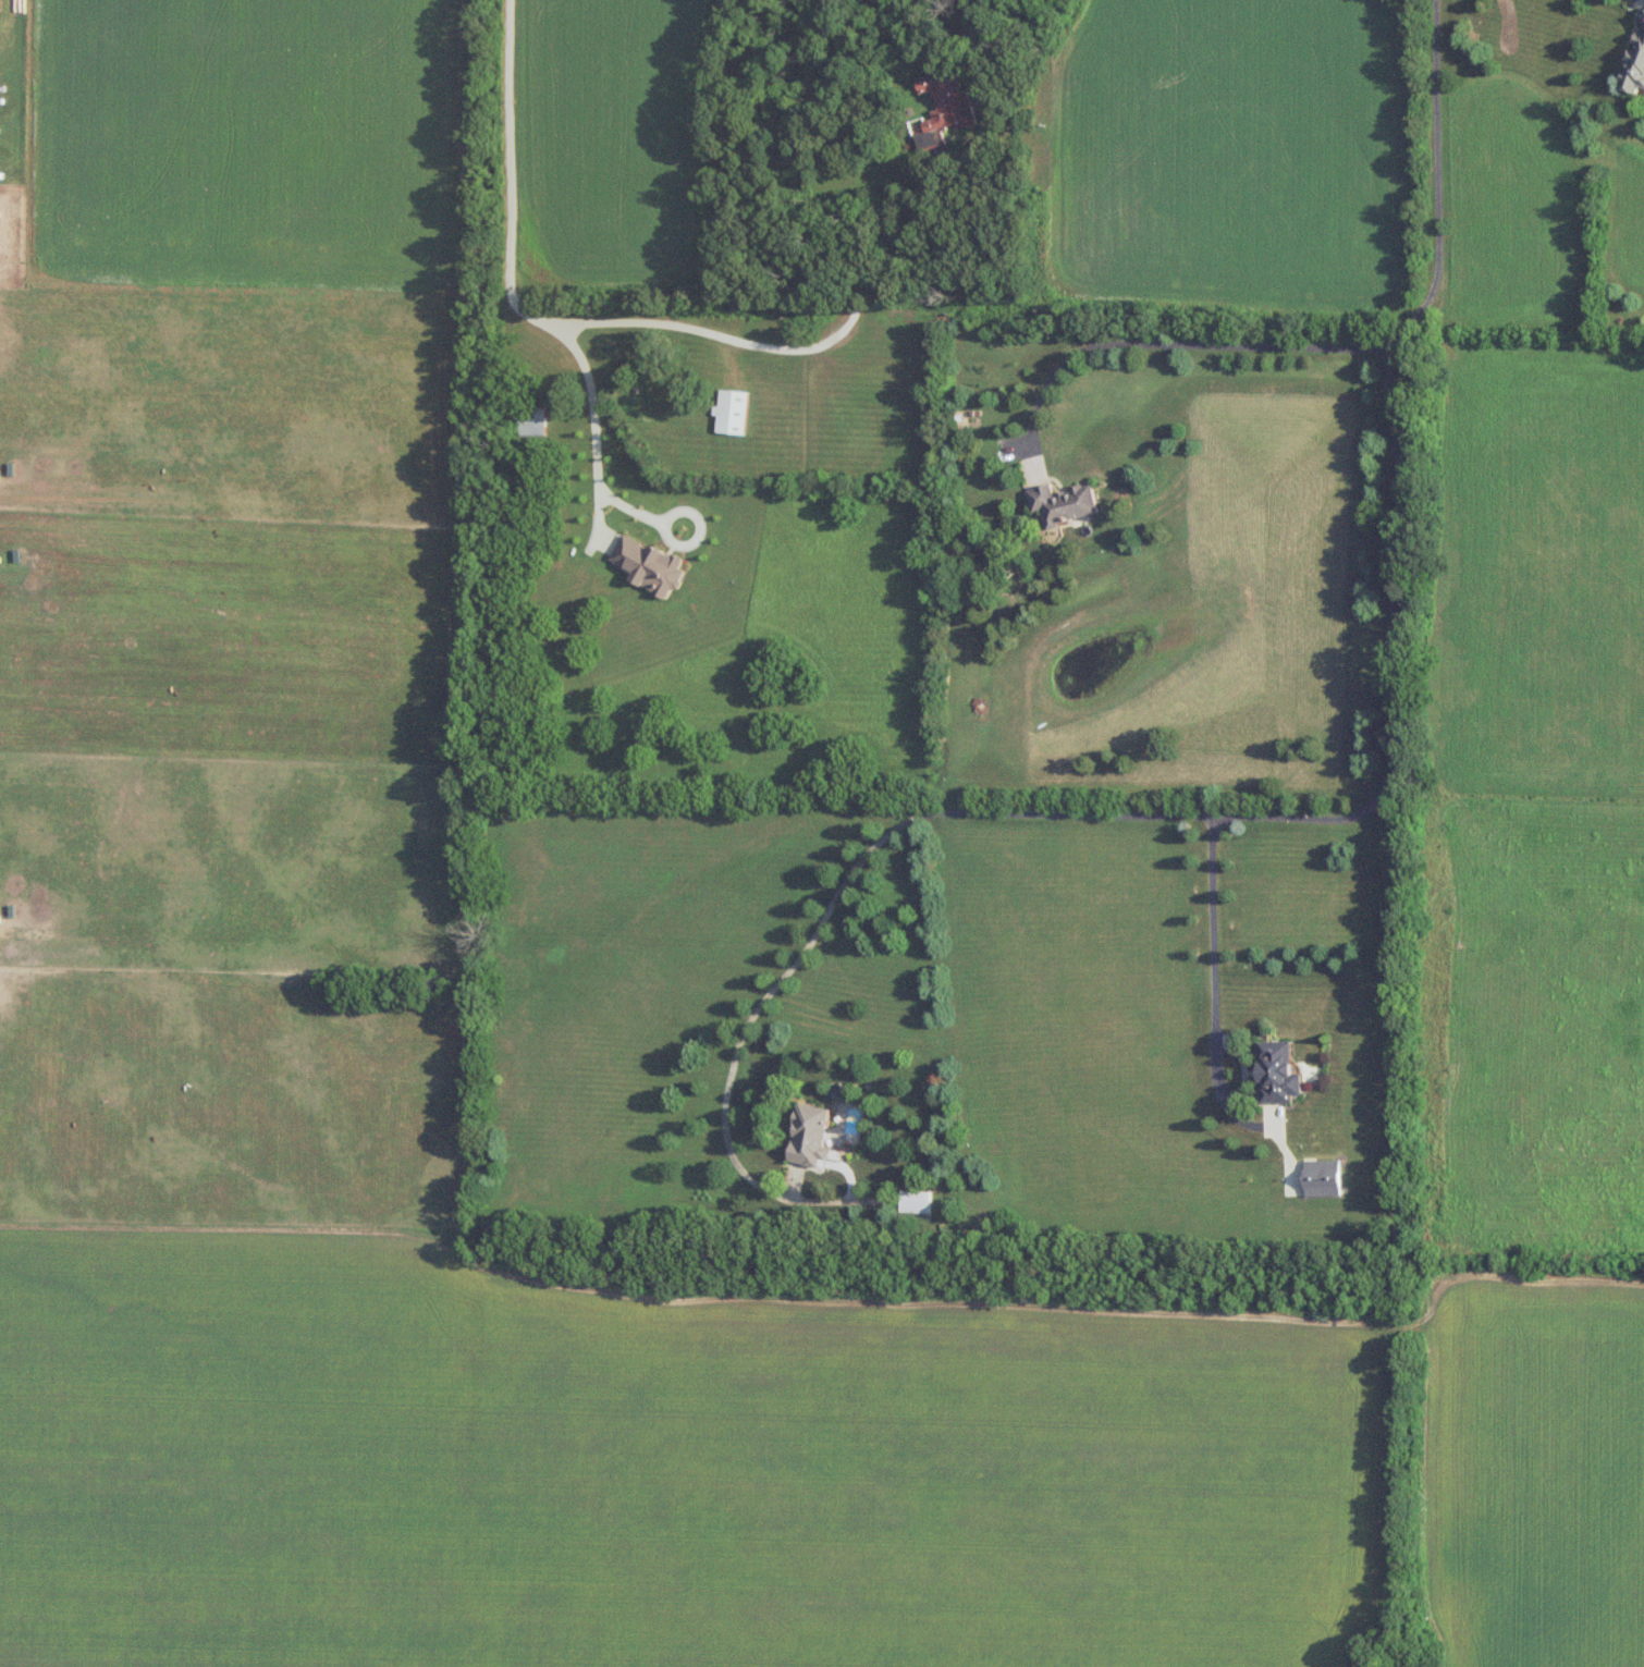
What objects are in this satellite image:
building: (1642, 16)
building: (1636, 68)
building: (949, 100)
road: (510, 169)
road: (827, 341)
road: (1164, 343)
building: (733, 412)
road: (594, 421)
building: (532, 422)
building: (1068, 503)
road: (1326, 818)
road: (1214, 989)
building: (1279, 1074)
building: (811, 1135)
building: (1323, 1178)
building: (917, 1202)

